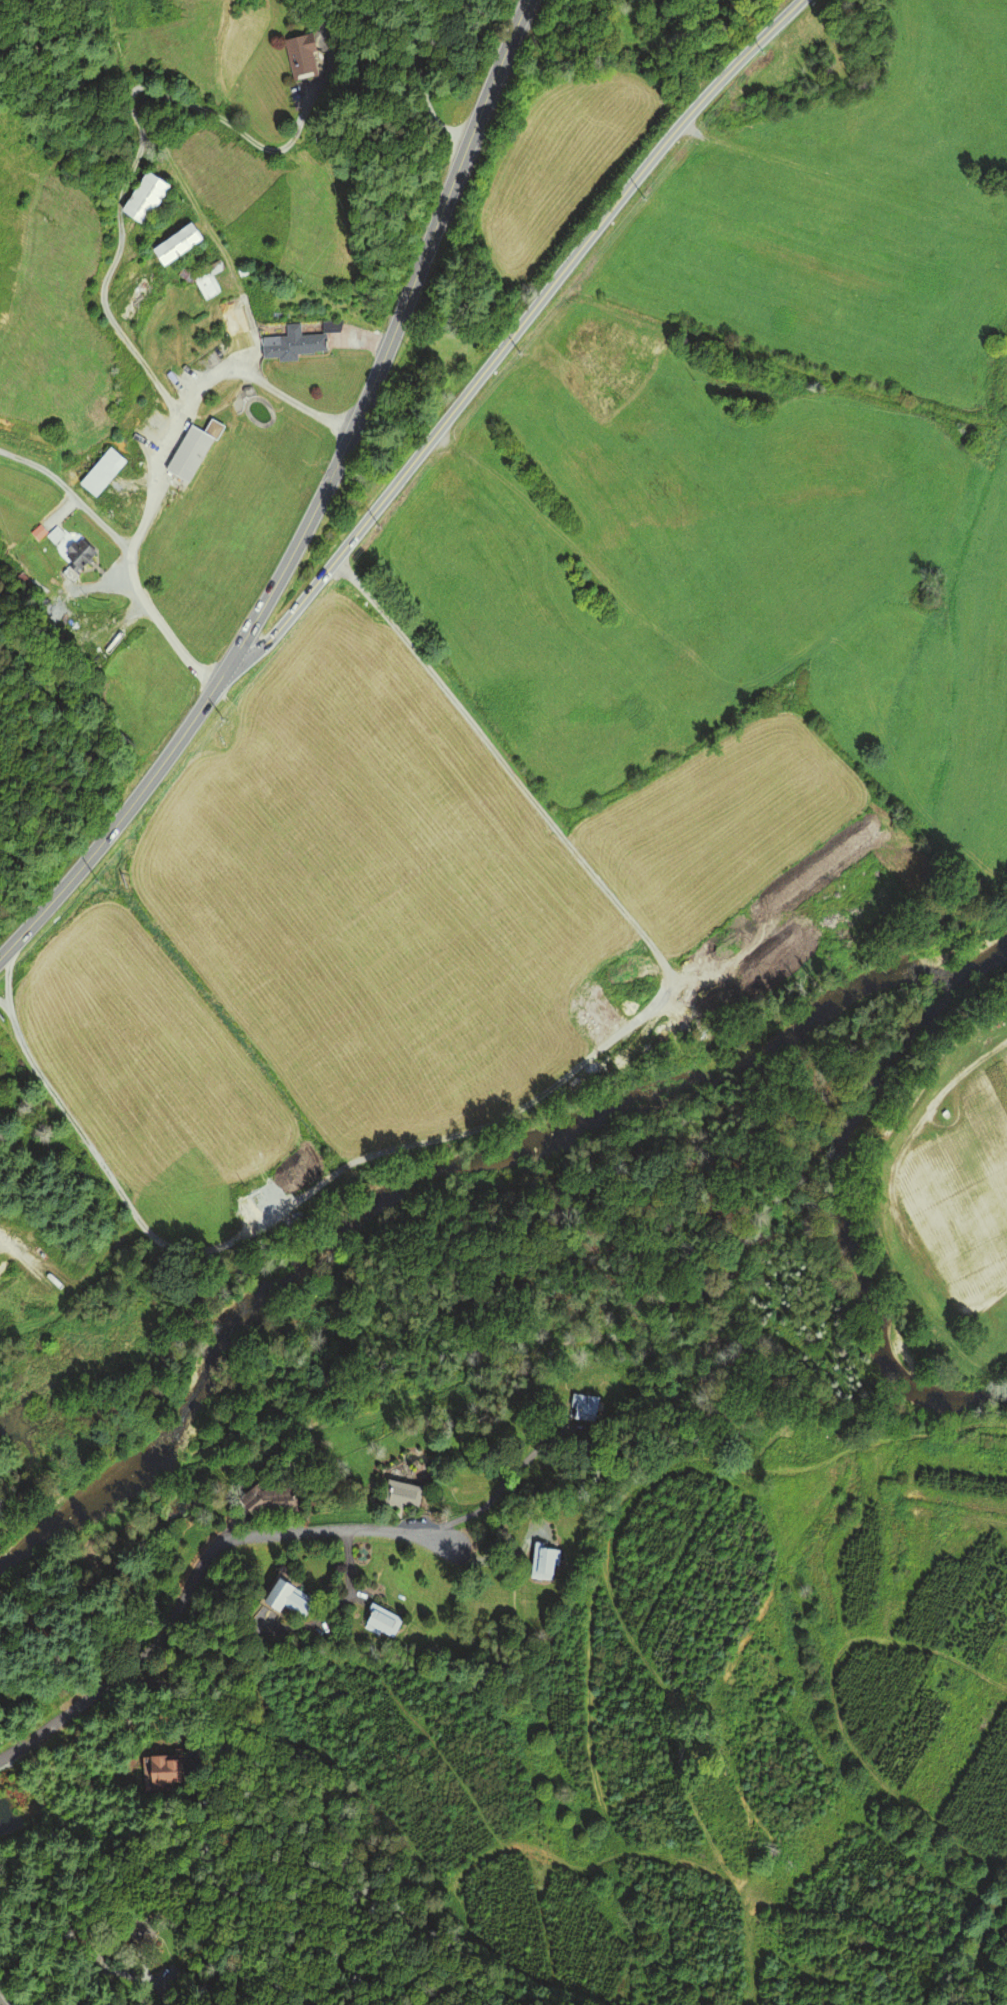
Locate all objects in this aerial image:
building: (297, 54)
road: (137, 155)
building: (139, 198)
building: (173, 244)
building: (208, 281)
road: (515, 333)
building: (288, 345)
building: (188, 451)
road: (159, 462)
building: (97, 472)
road: (69, 491)
road: (316, 508)
road: (508, 773)
river: (986, 955)
building: (701, 967)
river: (661, 1093)
river: (180, 1391)
building: (581, 1408)
building: (402, 1495)
building: (279, 1507)
building: (542, 1562)
road: (195, 1572)
building: (290, 1602)
road: (334, 1605)
building: (379, 1621)
road: (175, 1696)
building: (164, 1769)
building: (141, 1935)
road: (121, 1970)
road: (3, 2000)

